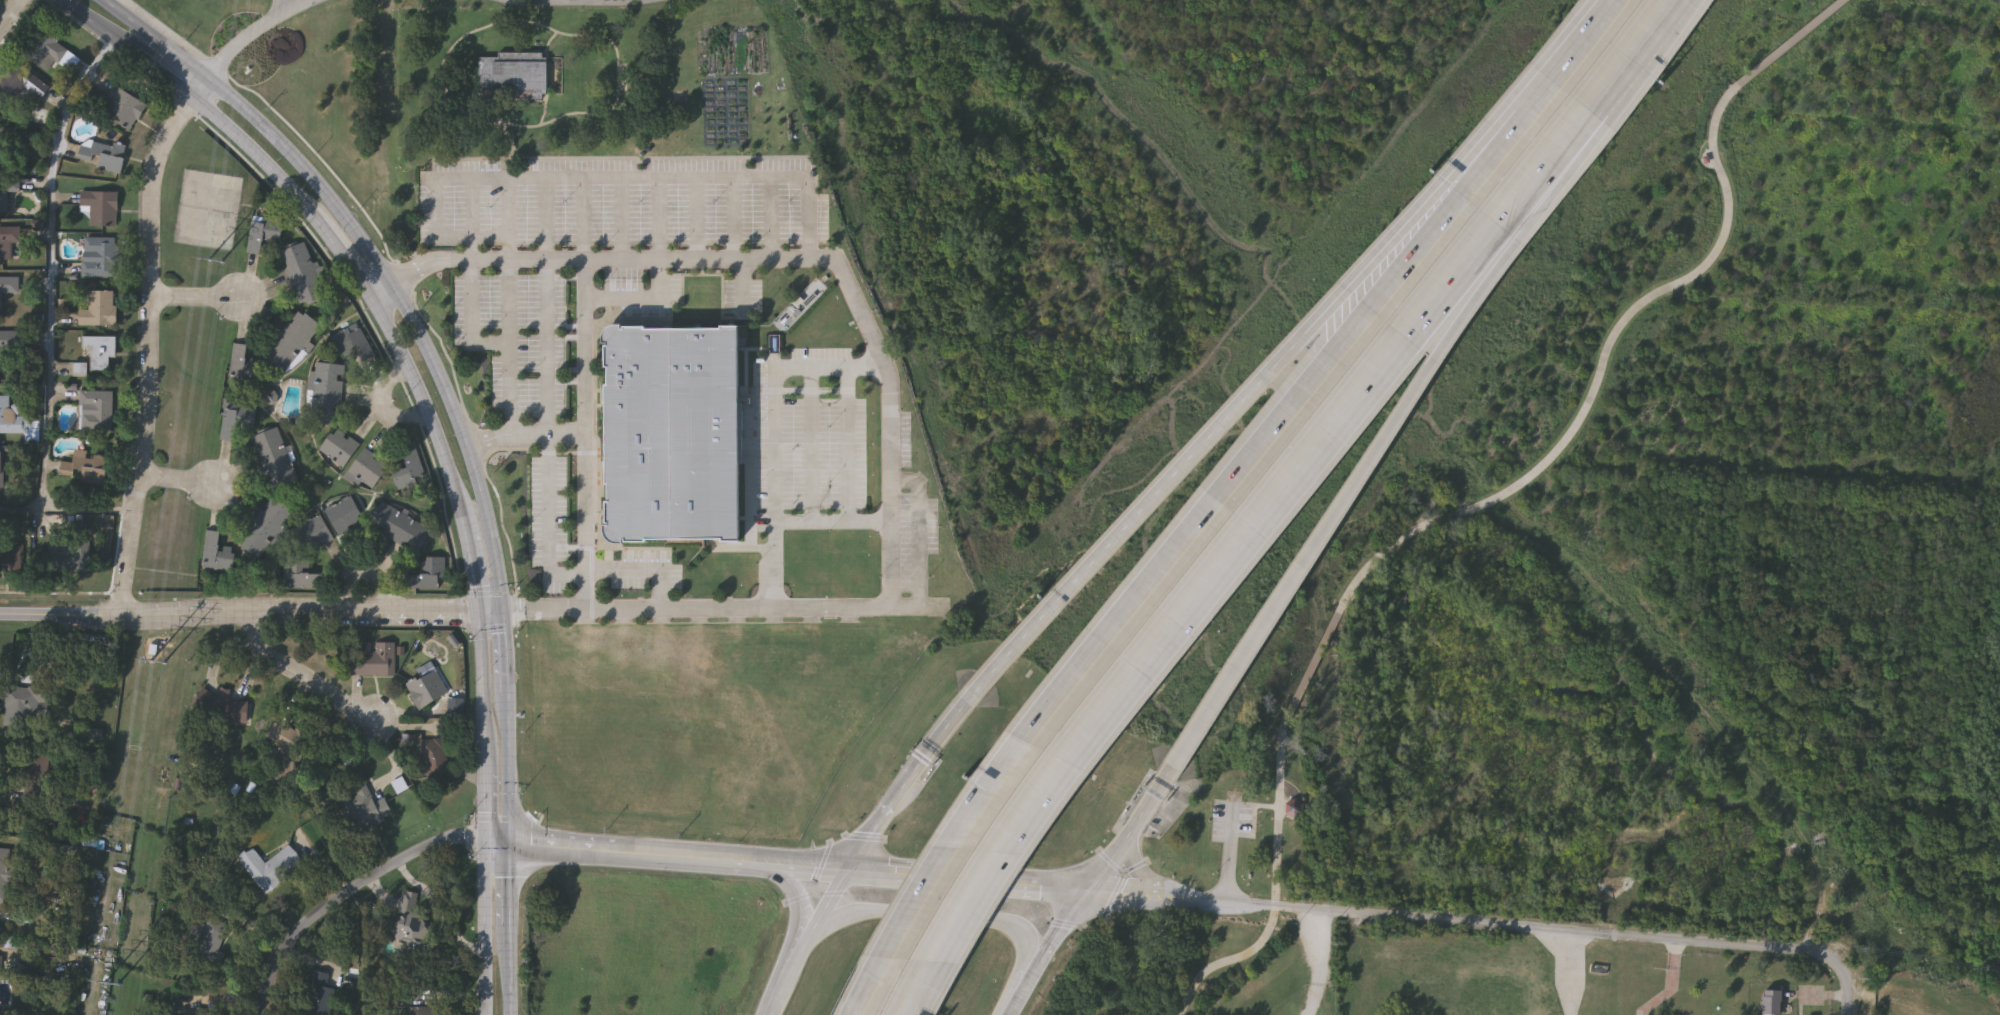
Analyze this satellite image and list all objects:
park: (576, 4)
road: (563, 6)
road: (1671, 10)
road: (11, 15)
road: (1616, 17)
road: (536, 23)
road: (93, 24)
road: (255, 31)
road: (168, 36)
building: (45, 47)
road: (159, 74)
building: (513, 77)
building: (21, 84)
park: (306, 84)
road: (201, 90)
building: (122, 107)
building: (10, 145)
building: (105, 154)
road: (255, 156)
road: (697, 177)
road: (449, 178)
building: (7, 188)
building: (100, 207)
building: (263, 234)
building: (8, 241)
road: (344, 254)
building: (100, 256)
road: (375, 259)
power tower: (213, 264)
building: (302, 274)
road: (744, 282)
building: (9, 286)
road: (638, 291)
road: (198, 301)
building: (100, 308)
road: (48, 310)
building: (292, 341)
building: (11, 343)
building: (353, 343)
road: (510, 346)
road: (546, 346)
building: (98, 352)
road: (153, 353)
road: (1287, 361)
building: (243, 366)
road: (890, 383)
building: (326, 393)
road: (1422, 395)
road: (426, 405)
road: (383, 407)
building: (96, 409)
building: (11, 414)
building: (233, 424)
building: (671, 430)
road: (525, 434)
road: (772, 434)
road: (585, 436)
building: (339, 447)
building: (276, 459)
building: (86, 467)
building: (2, 468)
building: (368, 468)
building: (409, 468)
road: (180, 483)
road: (1495, 500)
road: (1273, 508)
road: (1219, 512)
road: (832, 514)
building: (345, 515)
road: (547, 521)
building: (265, 528)
building: (402, 528)
building: (313, 532)
building: (216, 553)
building: (73, 561)
road: (649, 561)
road: (474, 569)
building: (426, 573)
building: (307, 580)
road: (253, 613)
traffic signals: (483, 615)
traffic signals: (506, 615)
road: (508, 653)
building: (373, 659)
power tower: (161, 664)
road: (300, 678)
road: (485, 688)
building: (428, 689)
building: (23, 705)
building: (222, 706)
building: (292, 741)
building: (435, 758)
road: (510, 768)
road: (910, 781)
road: (488, 800)
building: (1295, 813)
road: (1132, 831)
traffic signals: (489, 838)
road: (500, 841)
traffic signals: (511, 844)
road: (629, 855)
road: (1229, 857)
building: (272, 866)
building: (5, 874)
road: (917, 879)
road: (1146, 881)
road: (511, 884)
road: (349, 895)
road: (489, 901)
road: (794, 912)
road: (934, 913)
road: (1490, 926)
building: (413, 931)
road: (1054, 937)
building: (211, 938)
road: (805, 942)
road: (1317, 965)
road: (512, 969)
power tower: (113, 985)
road: (490, 989)
building: (320, 994)
road: (1012, 998)
building: (1769, 1002)
building: (205, 1011)
building: (425, 1011)

